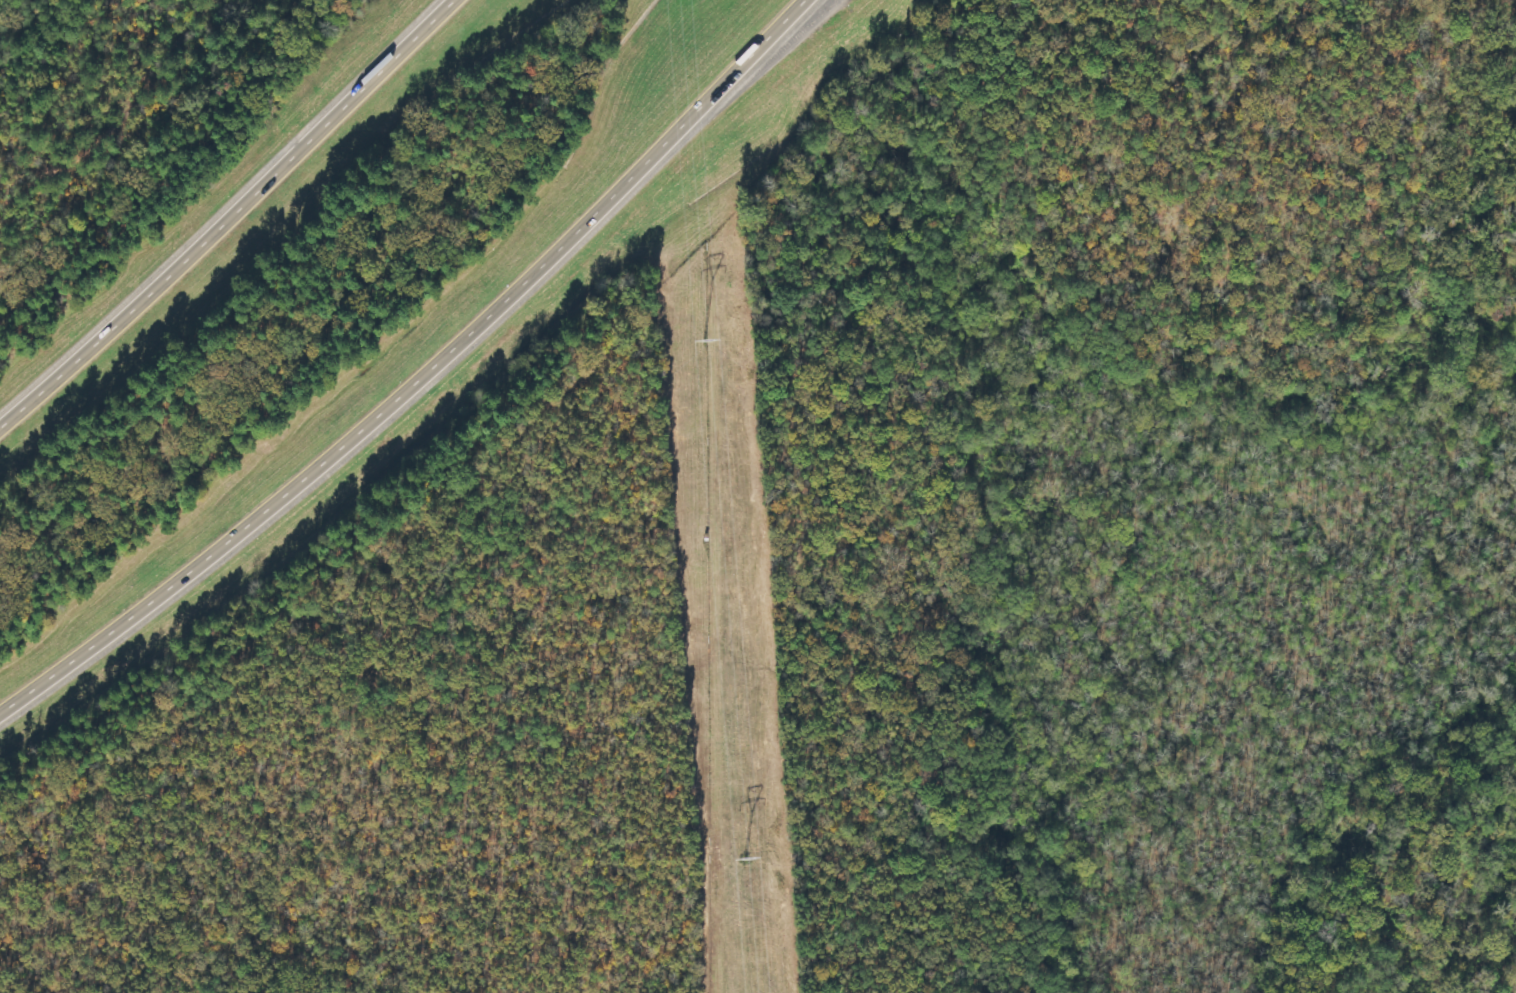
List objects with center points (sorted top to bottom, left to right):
road: (228, 217)
power tower: (705, 339)
road: (419, 373)
power tower: (742, 857)

